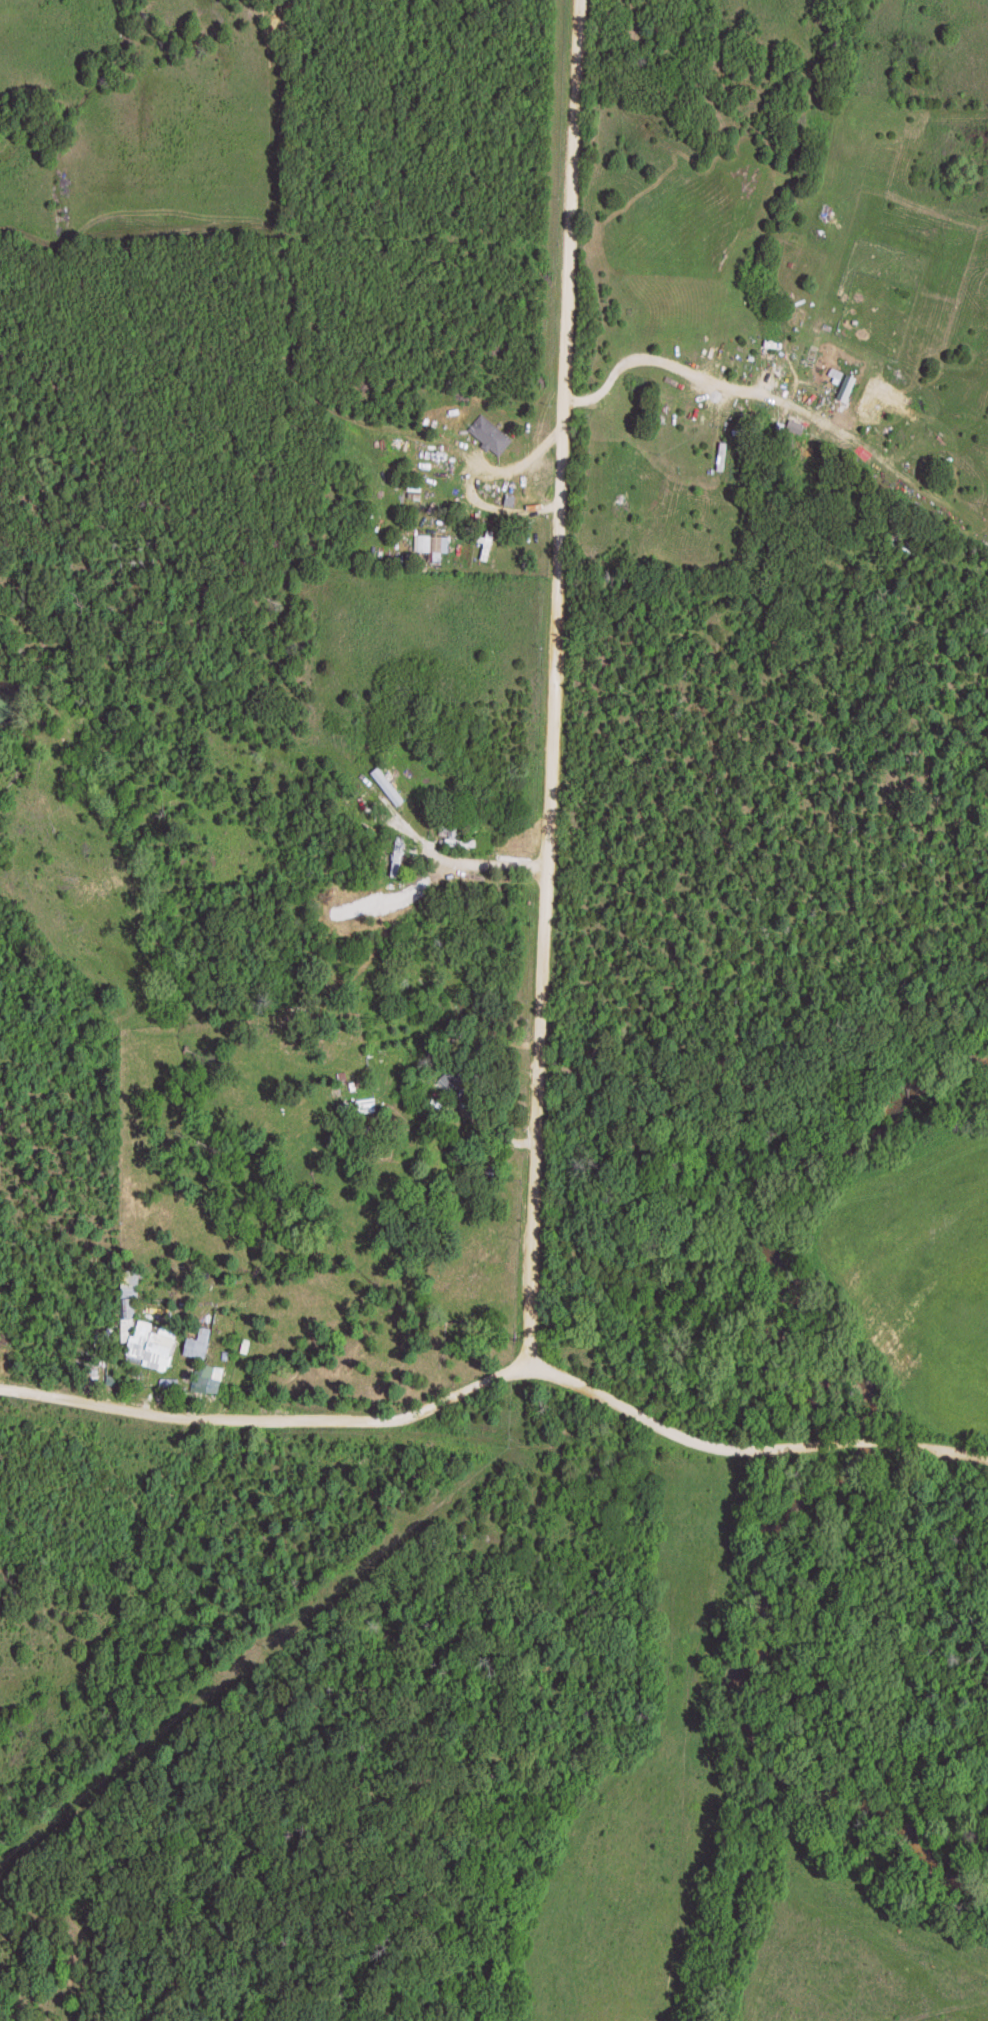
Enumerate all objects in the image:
building: (491, 434)
building: (432, 544)
building: (488, 546)
road: (558, 684)
building: (453, 835)
building: (455, 1081)
building: (366, 1105)
building: (128, 1319)
building: (198, 1344)
building: (152, 1357)
road: (446, 1401)
road: (930, 1449)
road: (511, 1473)

